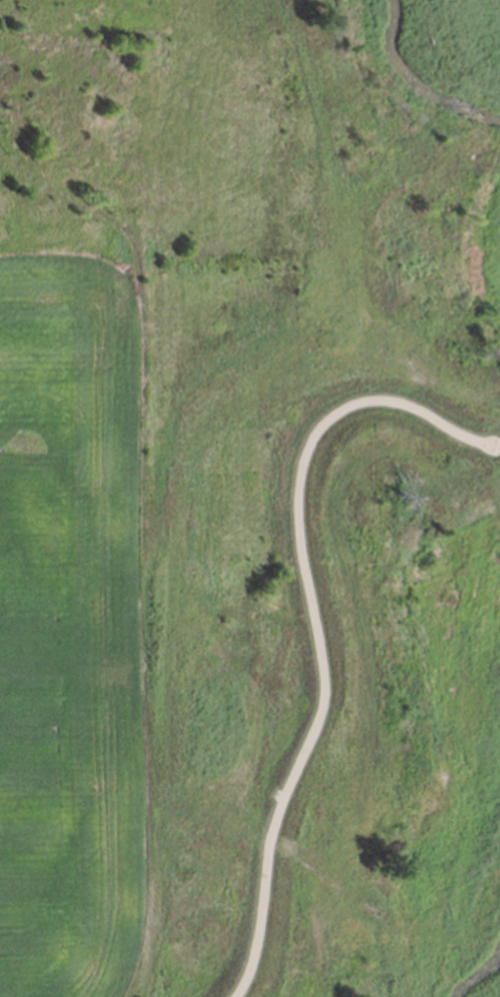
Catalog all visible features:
road: (313, 622)

